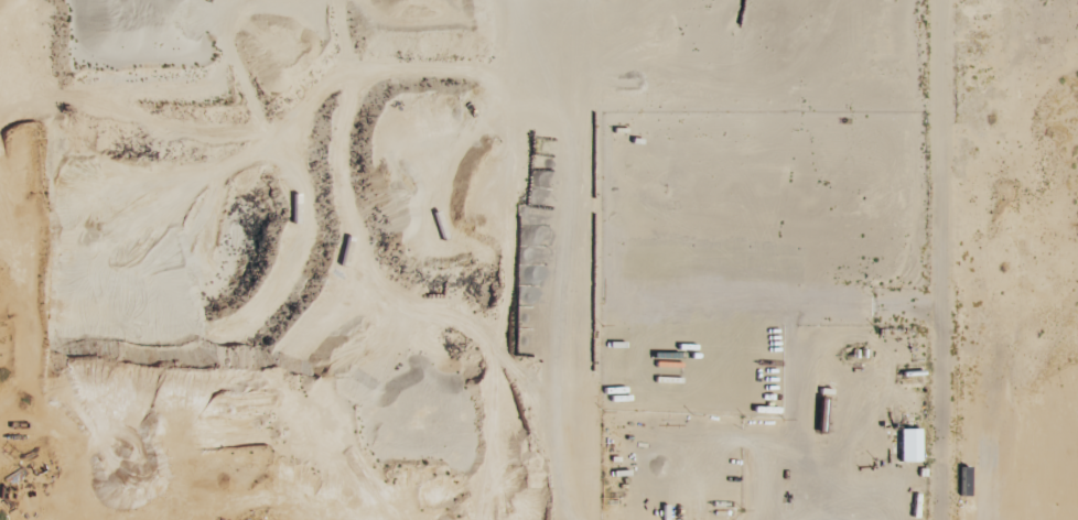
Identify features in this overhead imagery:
road: (855, 500)

